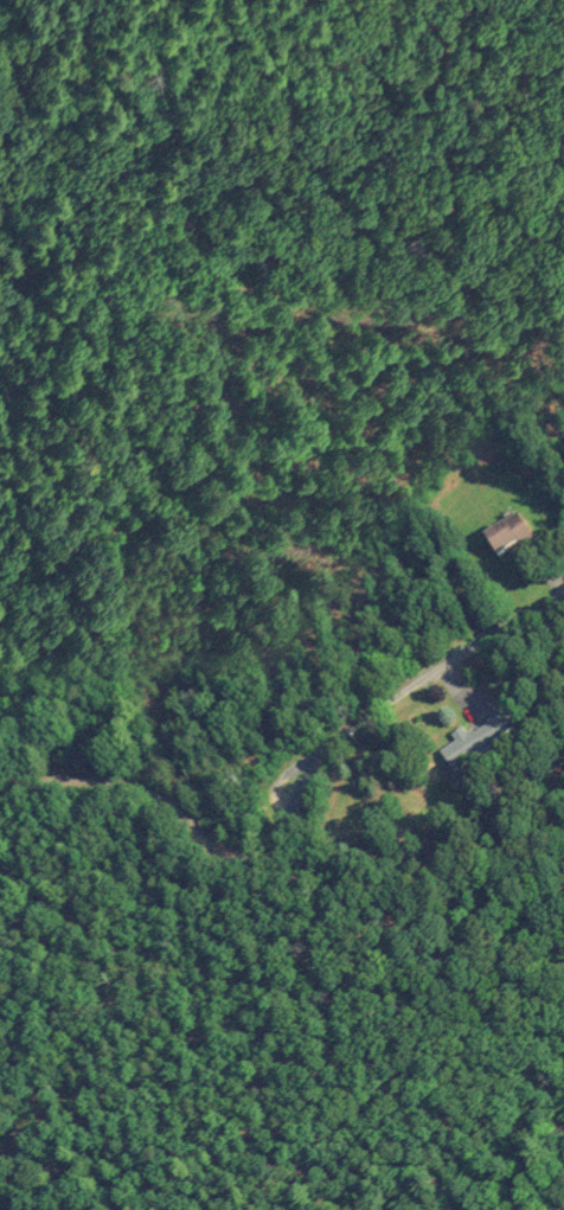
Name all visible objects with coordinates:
building: (494, 542)
road: (419, 690)
building: (474, 740)

